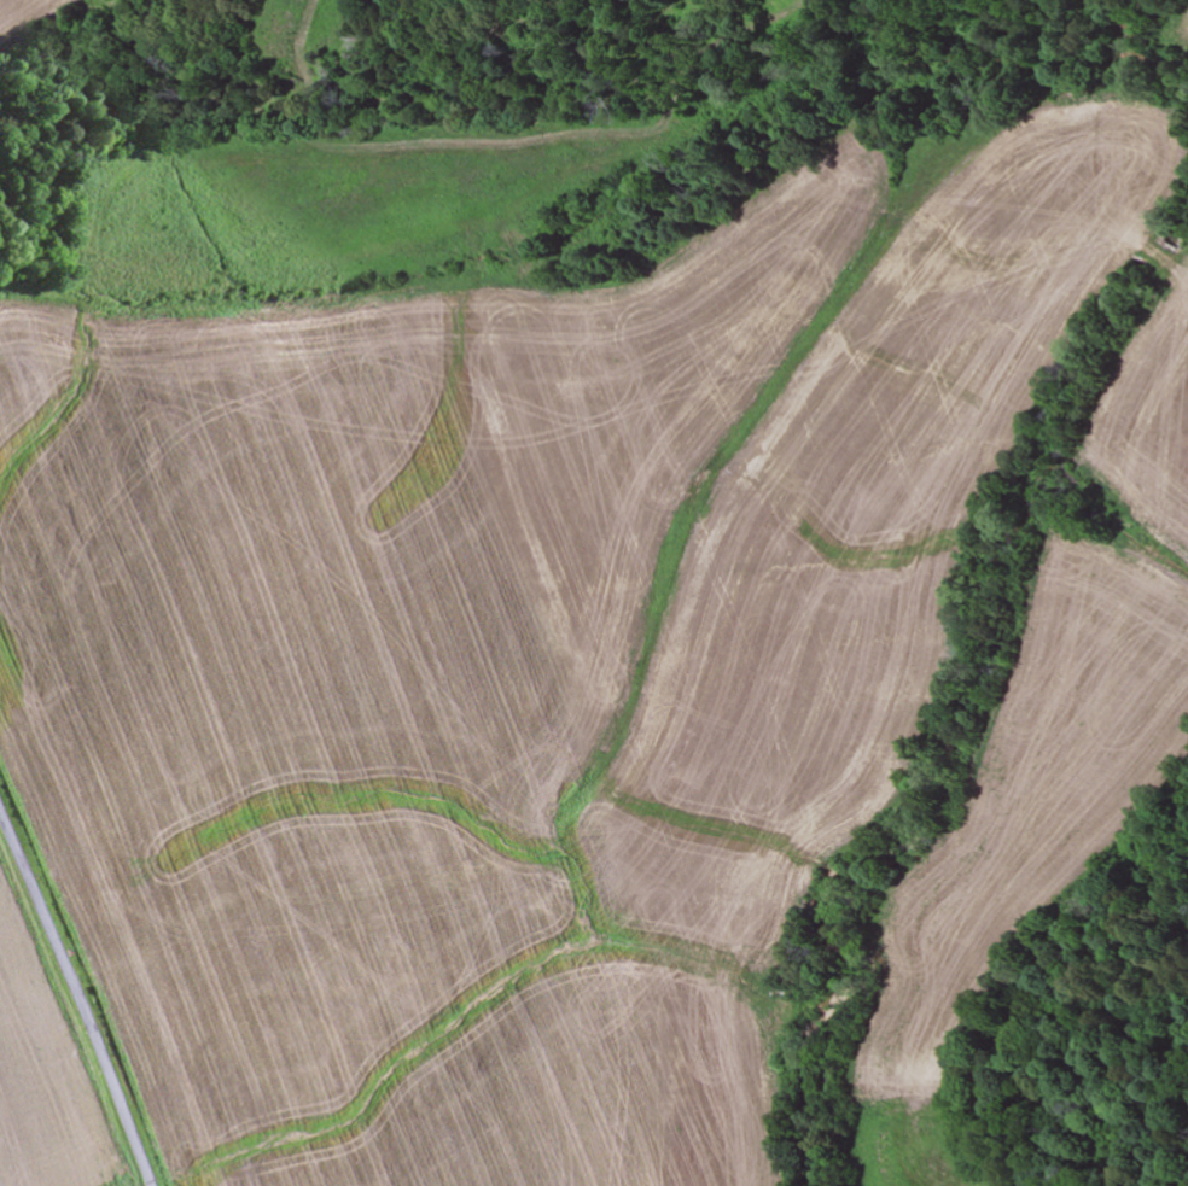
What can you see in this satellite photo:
road: (75, 1000)

